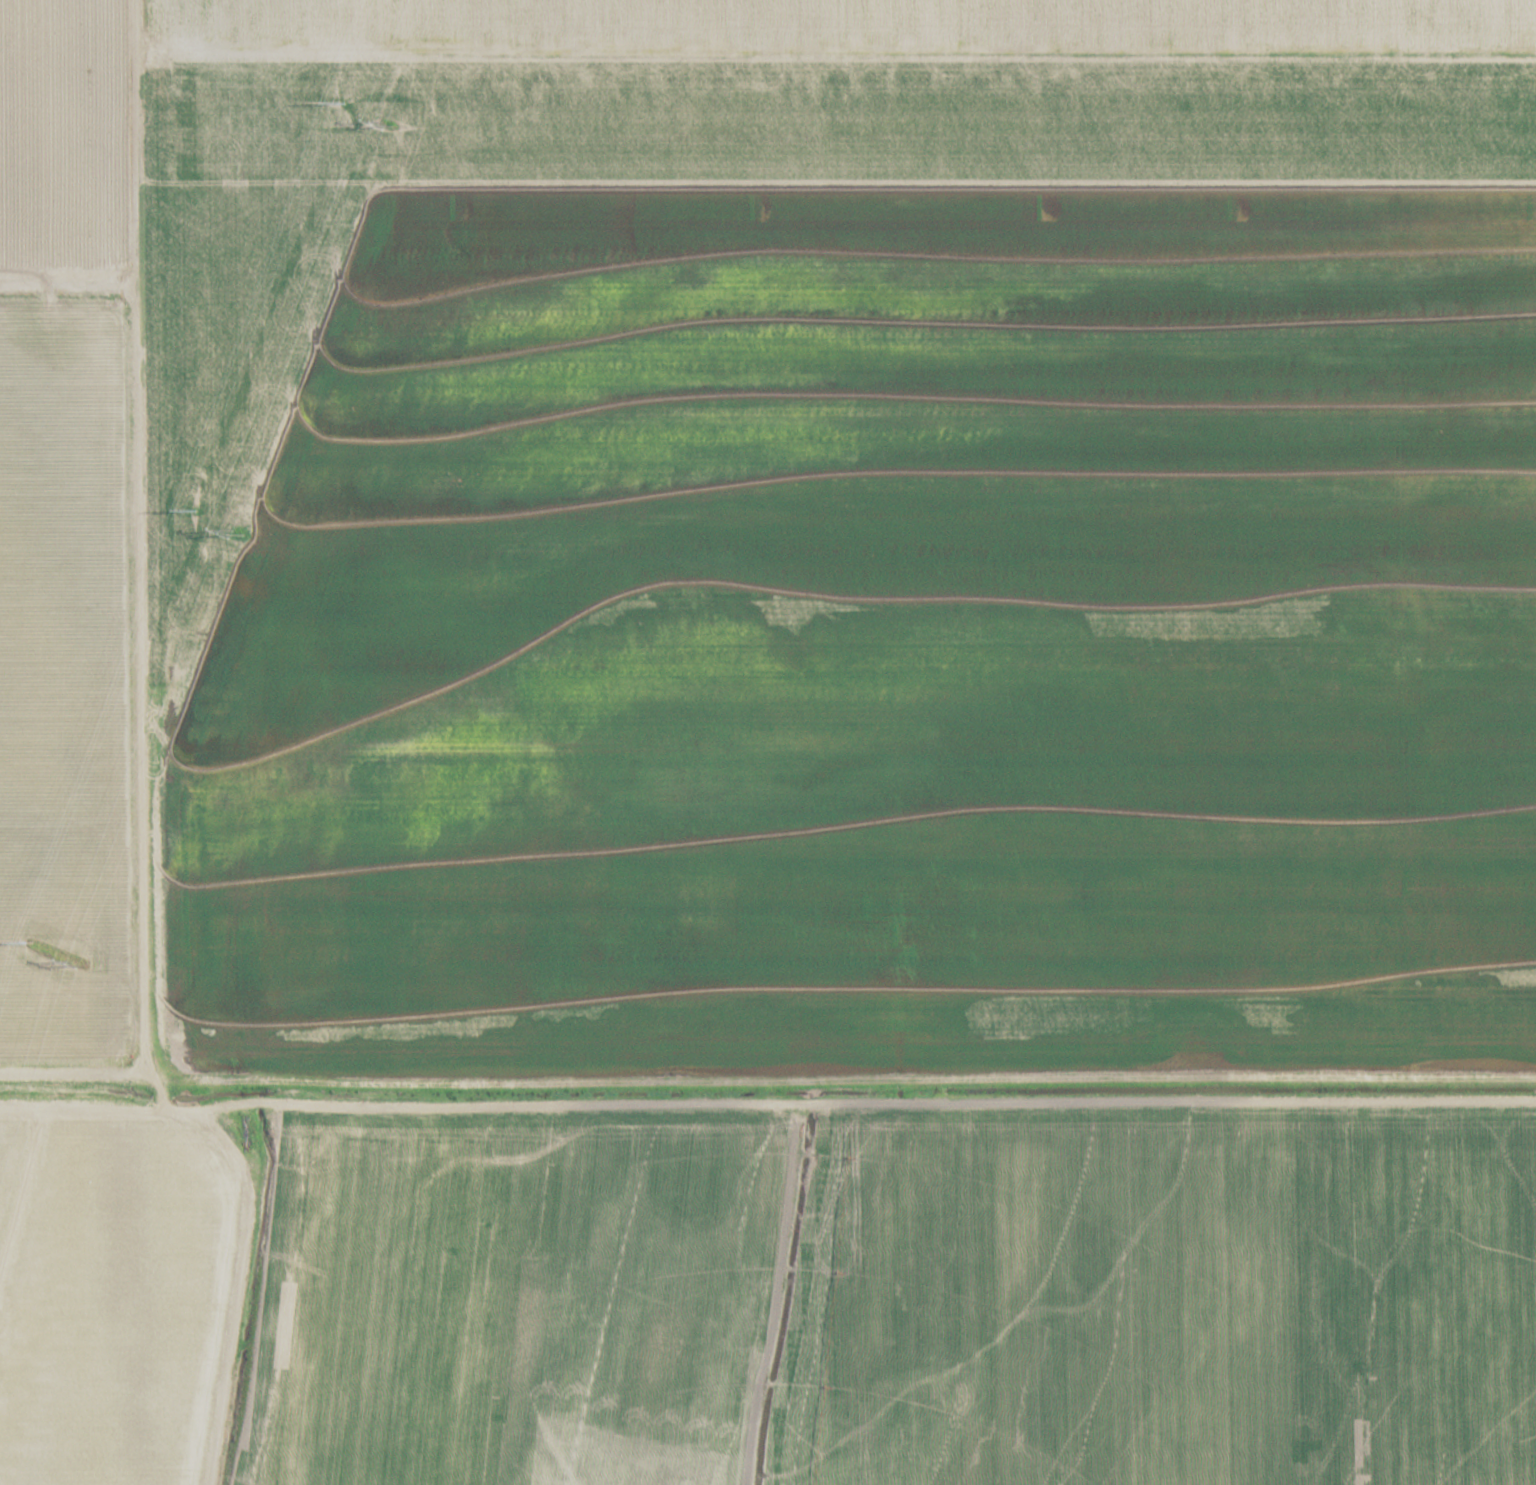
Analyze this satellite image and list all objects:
power tower: (390, 122)
road: (841, 215)
road: (77, 484)
power tower: (241, 534)
power tower: (83, 964)
road: (308, 1089)
road: (165, 1099)
road: (228, 1113)
road: (253, 1189)

